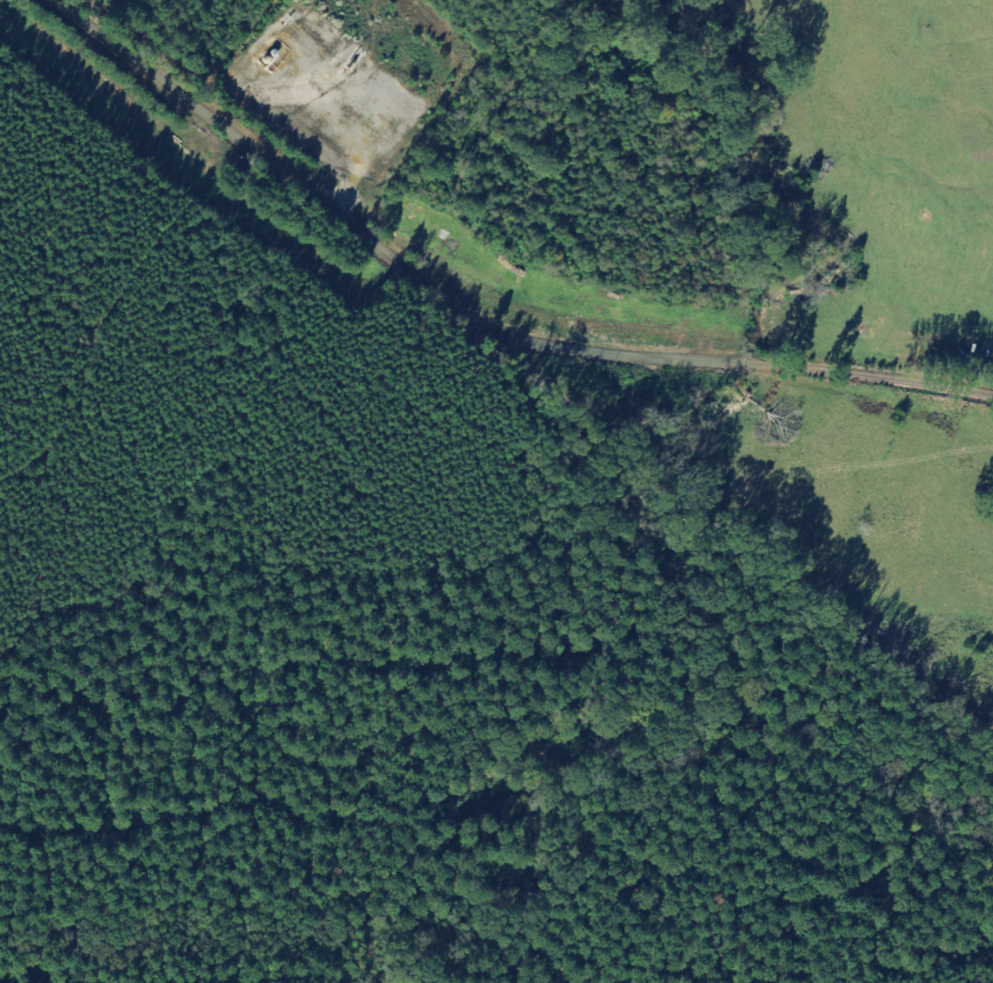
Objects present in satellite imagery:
road: (459, 323)

